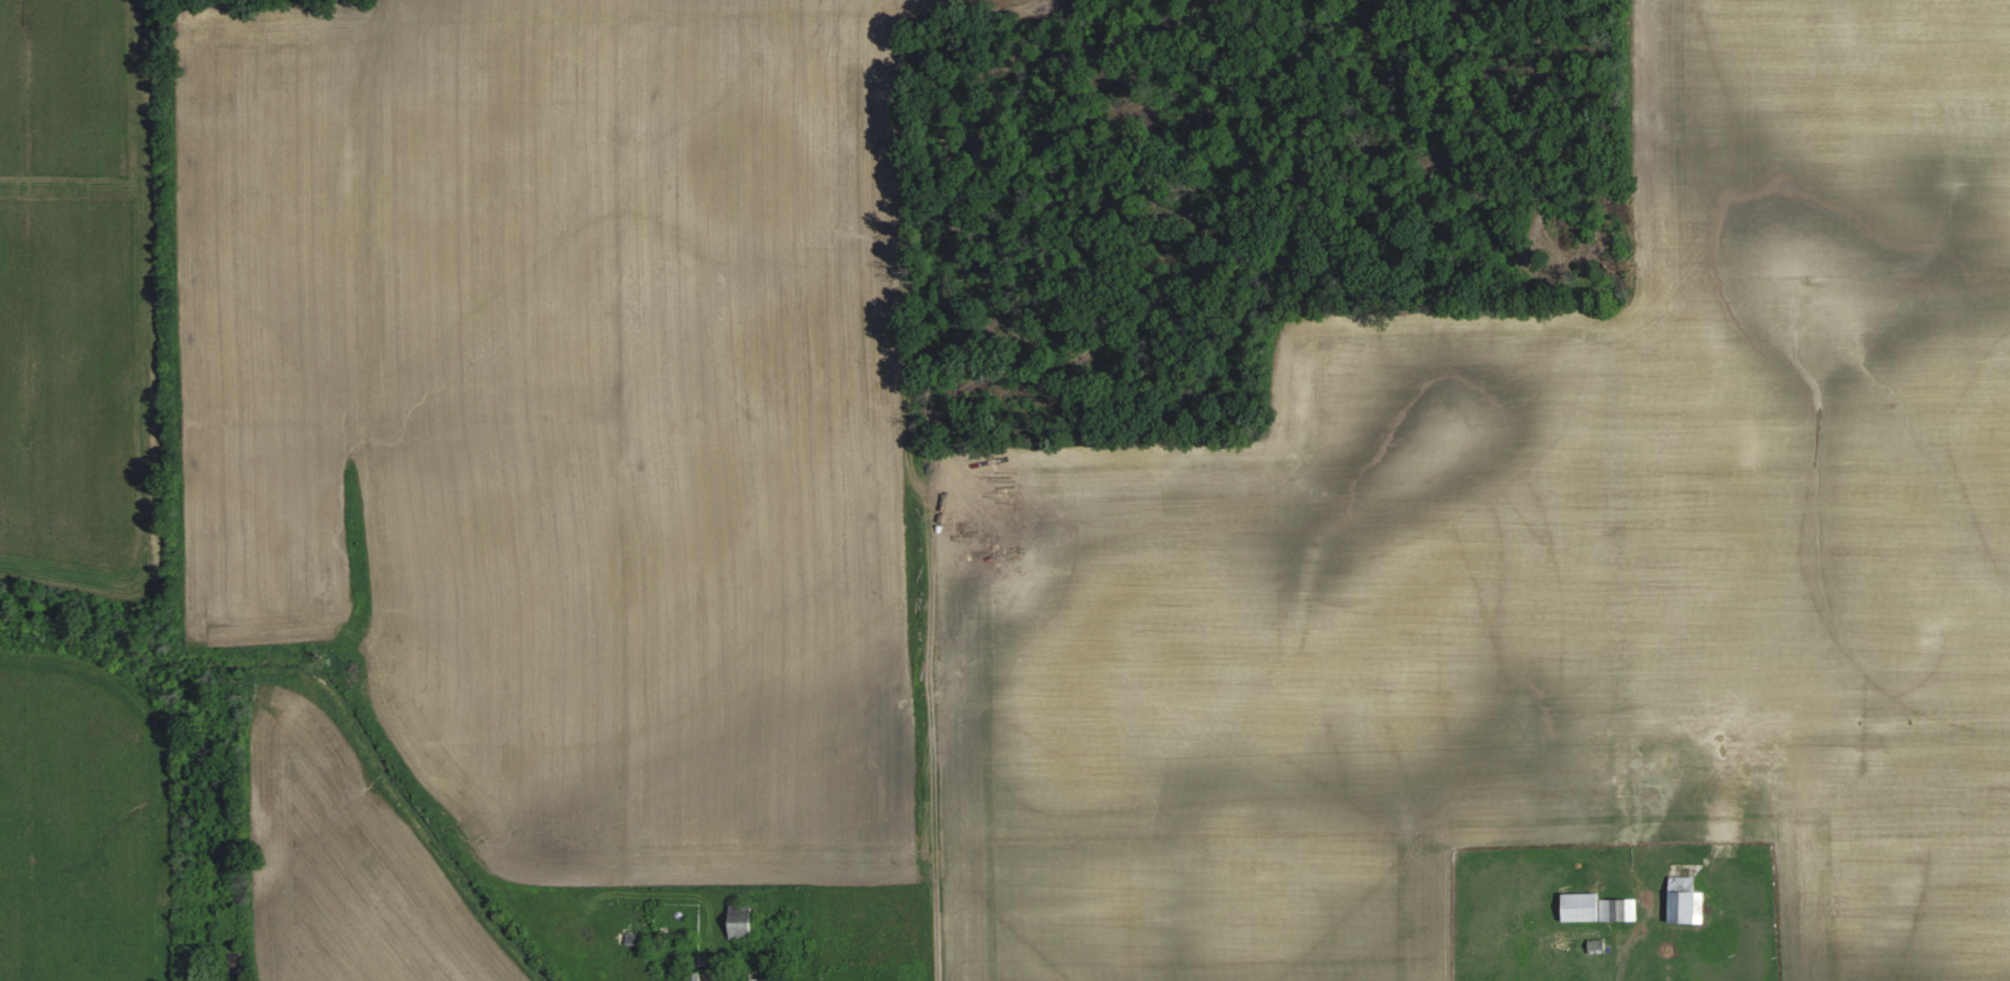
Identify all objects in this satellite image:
building: (1685, 899)
building: (1598, 906)
building: (741, 919)
building: (235, 962)
building: (692, 975)

